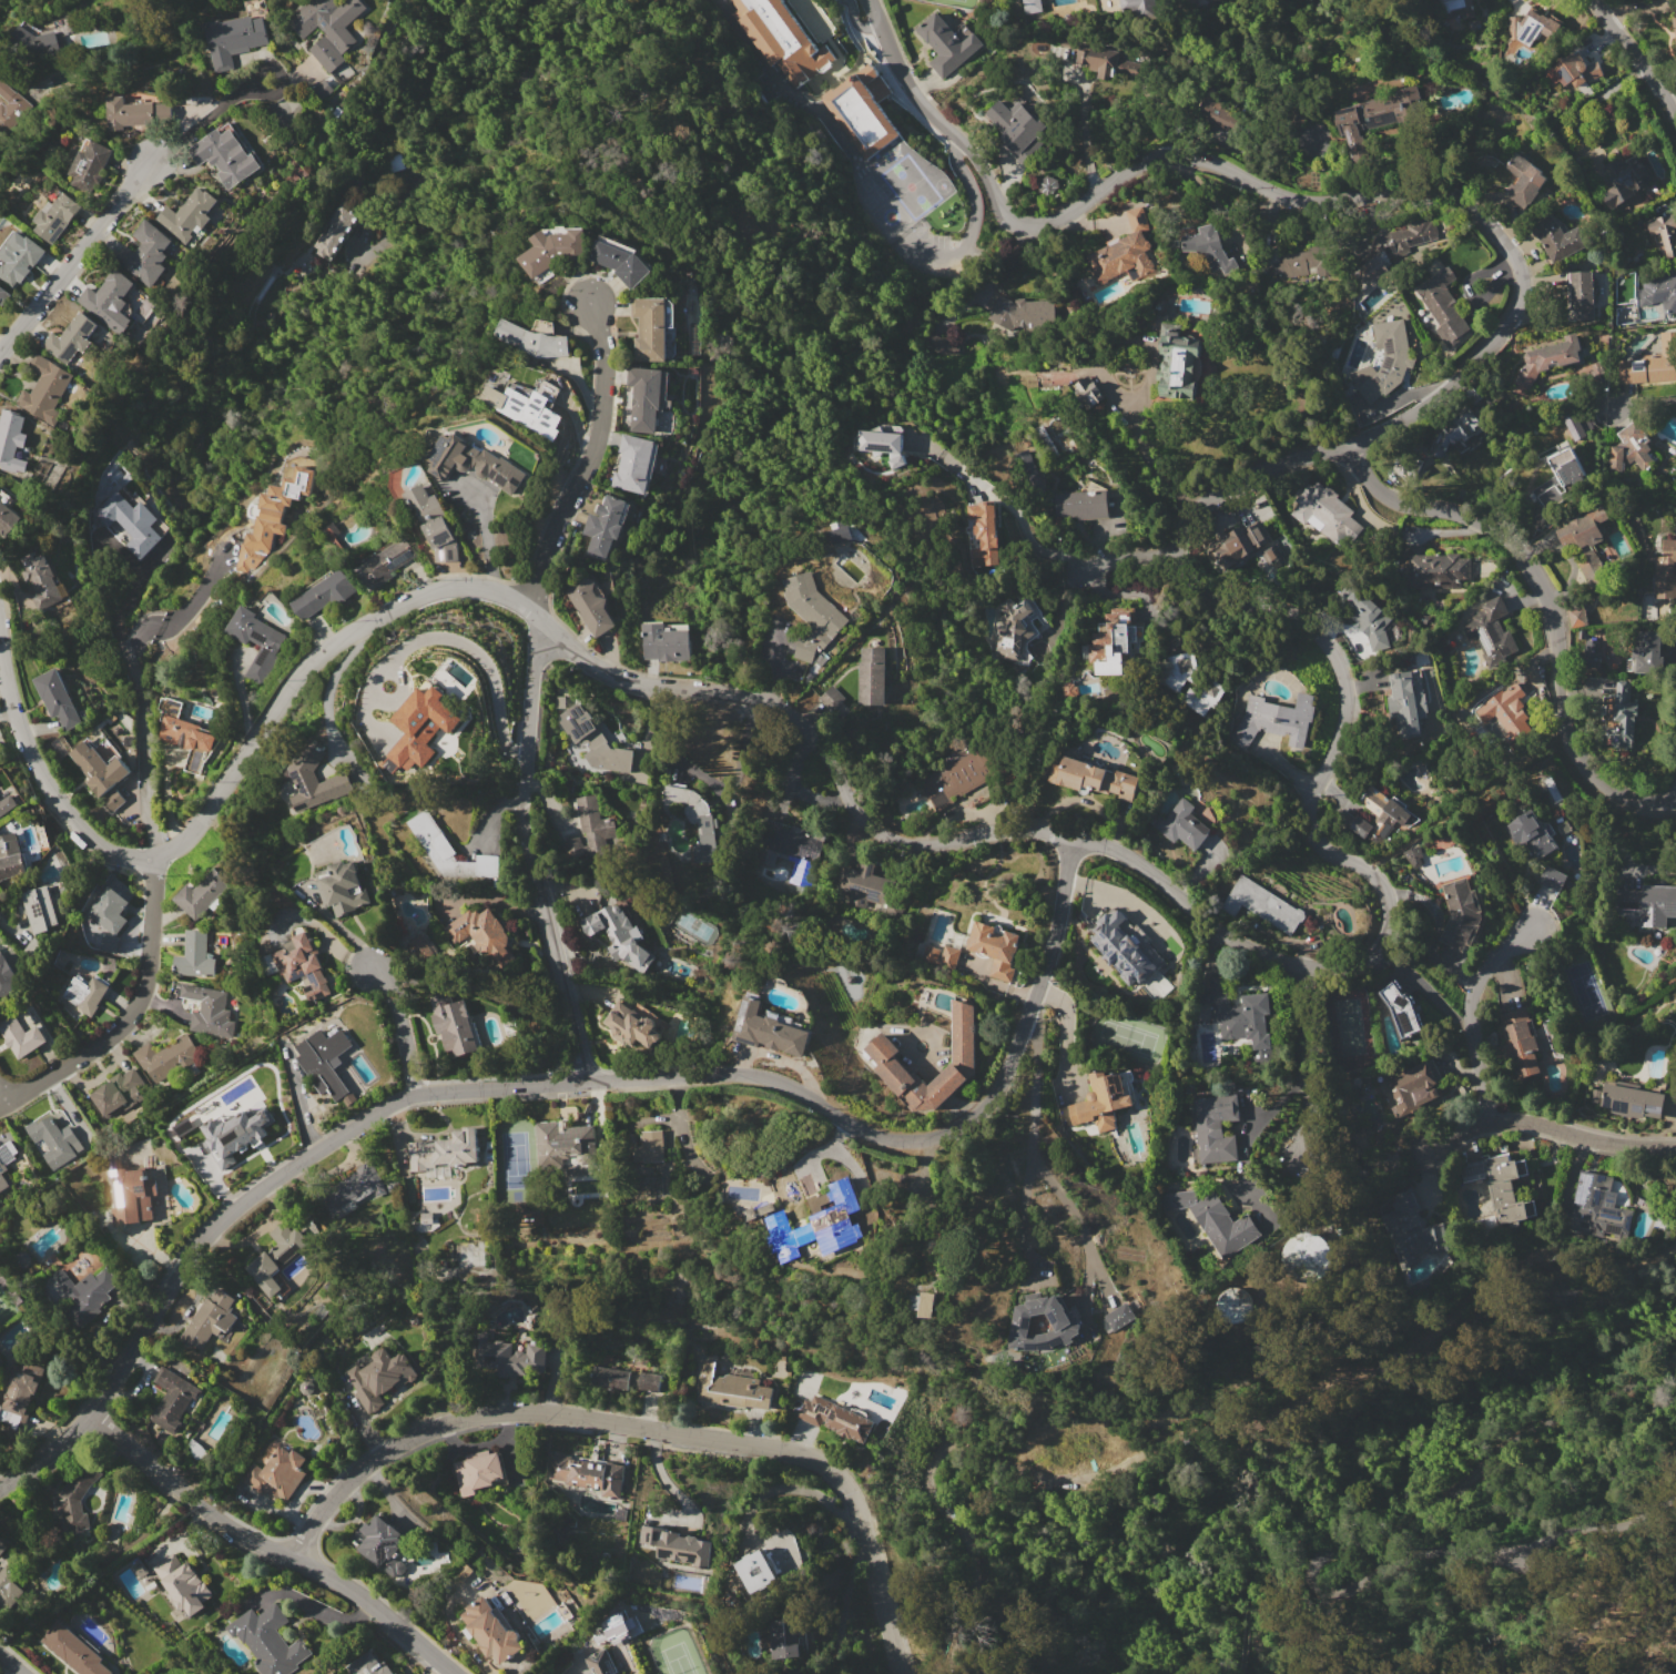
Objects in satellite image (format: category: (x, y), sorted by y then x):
building: (1208, 1)
road: (851, 2)
building: (1032, 7)
building: (1460, 7)
building: (1140, 8)
road: (857, 23)
building: (1532, 27)
building: (331, 28)
building: (1674, 32)
building: (236, 34)
building: (41, 37)
building: (783, 39)
building: (949, 44)
road: (1637, 59)
building: (1104, 61)
building: (1568, 70)
building: (1406, 100)
road: (489, 104)
building: (10, 106)
building: (861, 110)
building: (1216, 110)
building: (336, 111)
building: (134, 113)
building: (1357, 126)
building: (1017, 128)
road: (1079, 135)
building: (225, 155)
building: (89, 166)
building: (1523, 180)
building: (1623, 180)
building: (1047, 184)
road: (971, 186)
road: (121, 200)
building: (189, 215)
building: (55, 217)
building: (334, 231)
building: (1664, 232)
road: (380, 237)
building: (1556, 237)
building: (1395, 246)
building: (550, 250)
building: (1210, 251)
building: (1126, 252)
building: (150, 254)
road: (939, 254)
building: (19, 257)
building: (620, 261)
building: (1297, 261)
building: (1659, 291)
building: (4, 295)
building: (1581, 296)
building: (110, 301)
building: (1443, 303)
building: (1022, 312)
building: (650, 328)
building: (72, 338)
building: (534, 339)
building: (939, 344)
building: (1547, 358)
building: (1178, 363)
building: (1650, 363)
building: (1381, 368)
building: (1596, 368)
building: (45, 389)
building: (1085, 390)
building: (646, 397)
road: (1642, 402)
building: (525, 409)
building: (1457, 432)
building: (880, 440)
building: (12, 442)
building: (1637, 442)
road: (1147, 453)
road: (589, 459)
building: (1616, 459)
building: (897, 461)
building: (473, 463)
building: (634, 464)
building: (1027, 467)
building: (1566, 467)
building: (1081, 504)
road: (1015, 510)
building: (1325, 514)
building: (9, 519)
building: (272, 519)
building: (130, 521)
building: (434, 524)
building: (984, 524)
building: (605, 526)
building: (1581, 531)
building: (839, 532)
road: (486, 534)
building: (1237, 541)
road: (1125, 555)
building: (385, 564)
building: (1665, 570)
building: (1434, 571)
building: (1588, 574)
building: (44, 581)
building: (325, 593)
building: (589, 606)
road: (1548, 606)
road: (185, 609)
building: (812, 613)
building: (1368, 615)
building: (1577, 616)
building: (1017, 629)
building: (1493, 631)
building: (256, 641)
building: (666, 641)
building: (1110, 643)
building: (1648, 646)
road: (476, 651)
building: (1589, 652)
building: (872, 676)
building: (1189, 682)
building: (831, 697)
building: (57, 698)
building: (1405, 704)
building: (1504, 709)
road: (7, 710)
building: (1624, 713)
building: (407, 720)
building: (1274, 720)
building: (182, 729)
building: (597, 742)
road: (143, 751)
building: (100, 764)
building: (965, 772)
building: (313, 778)
building: (1093, 778)
road: (710, 784)
building: (113, 800)
building: (7, 804)
building: (693, 816)
building: (1379, 816)
building: (595, 825)
building: (1181, 825)
building: (1532, 834)
road: (529, 846)
building: (450, 851)
building: (795, 852)
building: (11, 856)
building: (1412, 856)
building: (1552, 877)
building: (862, 883)
building: (341, 887)
building: (201, 893)
road: (1386, 899)
building: (1261, 904)
building: (1648, 904)
building: (39, 909)
building: (109, 909)
building: (1460, 914)
building: (481, 935)
building: (618, 936)
building: (106, 942)
building: (418, 946)
building: (1120, 946)
building: (995, 948)
building: (196, 956)
building: (930, 957)
building: (302, 963)
building: (8, 976)
building: (85, 994)
building: (209, 1010)
building: (1401, 1010)
road: (130, 1013)
building: (1247, 1017)
building: (455, 1024)
building: (630, 1025)
road: (402, 1029)
building: (769, 1031)
building: (21, 1036)
building: (1523, 1047)
building: (882, 1052)
road: (1476, 1052)
building: (166, 1056)
building: (326, 1061)
road: (1304, 1061)
road: (562, 1082)
building: (118, 1090)
building: (1414, 1090)
road: (2, 1094)
building: (1104, 1099)
building: (1627, 1100)
building: (1216, 1127)
road: (681, 1129)
building: (236, 1132)
road: (1585, 1136)
road: (1032, 1137)
building: (54, 1140)
building: (563, 1143)
building: (650, 1147)
building: (444, 1151)
building: (2, 1176)
building: (393, 1186)
building: (358, 1187)
building: (866, 1187)
building: (1502, 1187)
building: (132, 1194)
building: (1599, 1208)
building: (427, 1217)
building: (1215, 1219)
building: (821, 1224)
building: (1411, 1231)
road: (1081, 1235)
building: (1307, 1257)
building: (272, 1258)
road: (1101, 1278)
building: (327, 1286)
building: (85, 1295)
building: (932, 1305)
building: (1233, 1305)
building: (1121, 1317)
building: (210, 1319)
building: (1068, 1322)
building: (514, 1356)
building: (379, 1377)
building: (609, 1378)
building: (650, 1381)
building: (22, 1388)
building: (730, 1388)
building: (179, 1408)
building: (835, 1418)
road: (647, 1427)
building: (479, 1471)
building: (276, 1474)
building: (588, 1474)
road: (670, 1487)
building: (75, 1498)
building: (379, 1544)
building: (678, 1545)
road: (271, 1546)
building: (2, 1548)
building: (755, 1571)
building: (183, 1584)
building: (8, 1587)
building: (491, 1630)
building: (265, 1636)
building: (781, 1641)
building: (74, 1651)
building: (600, 1663)
road: (11, 1664)
building: (368, 1665)
building: (396, 1673)

